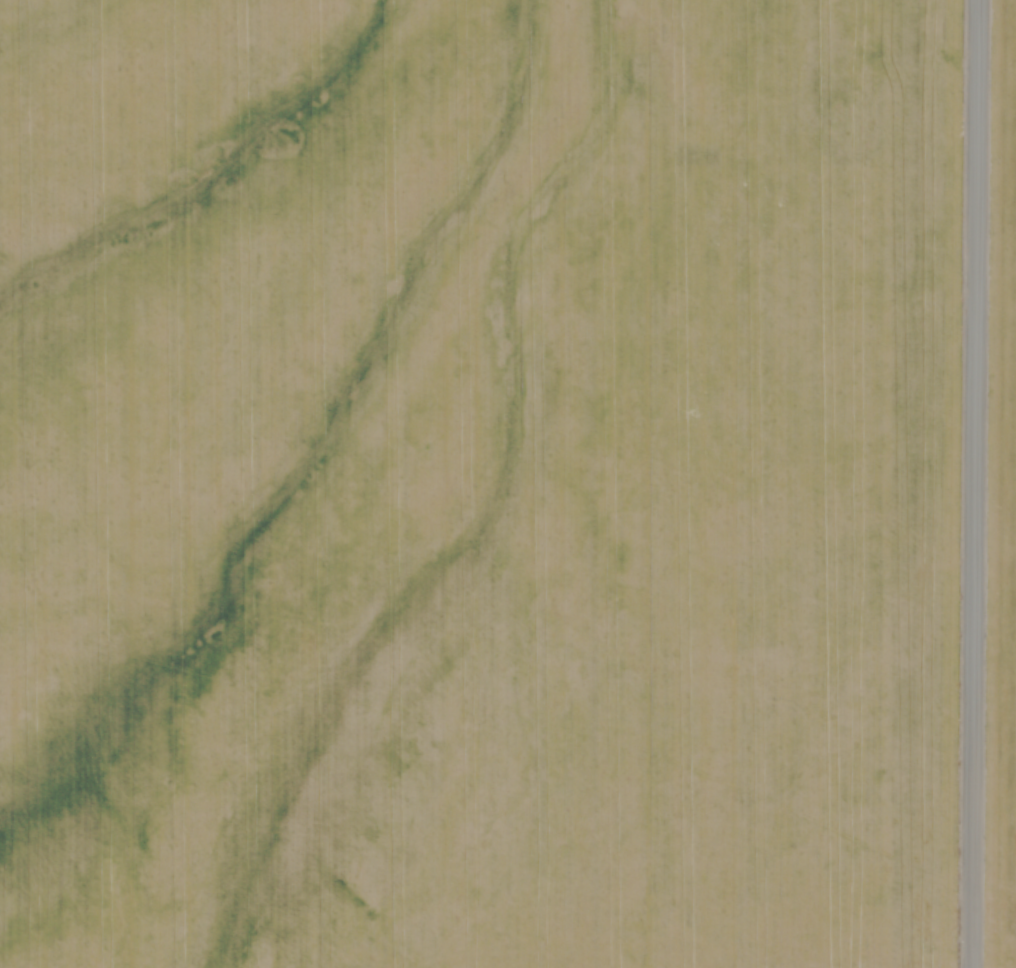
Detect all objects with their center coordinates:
road: (968, 484)

